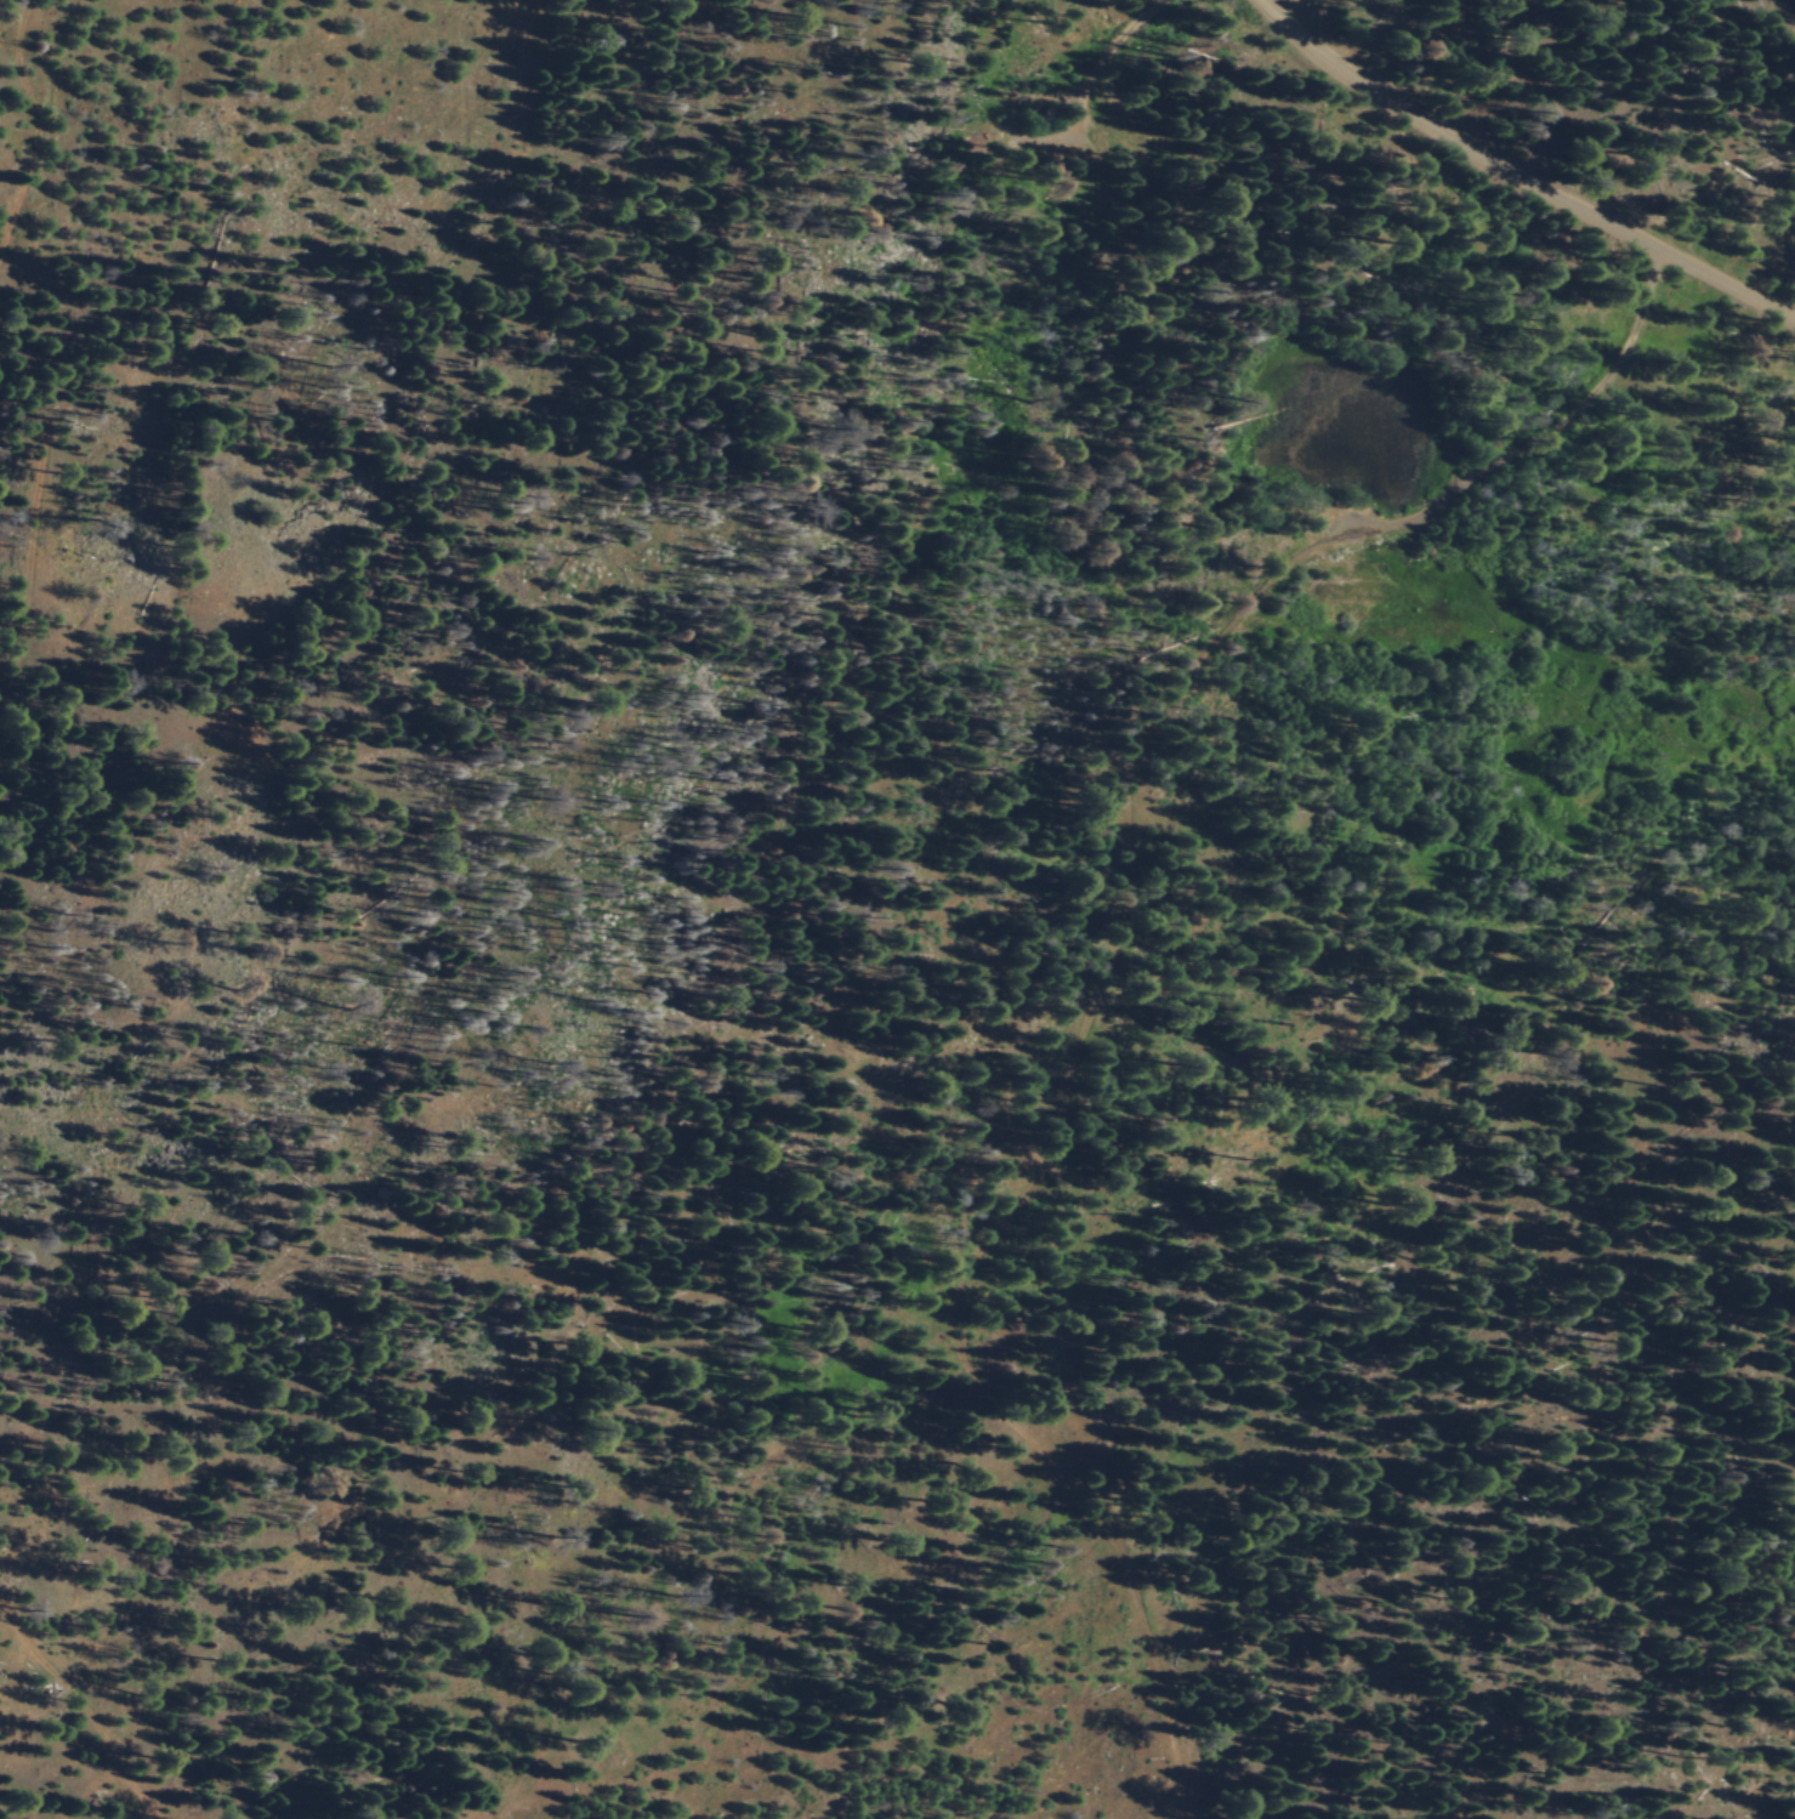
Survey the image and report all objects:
road: (35, 124)
road: (1518, 177)
wastewater plant: (1367, 445)
road: (1472, 940)
road: (1198, 971)

